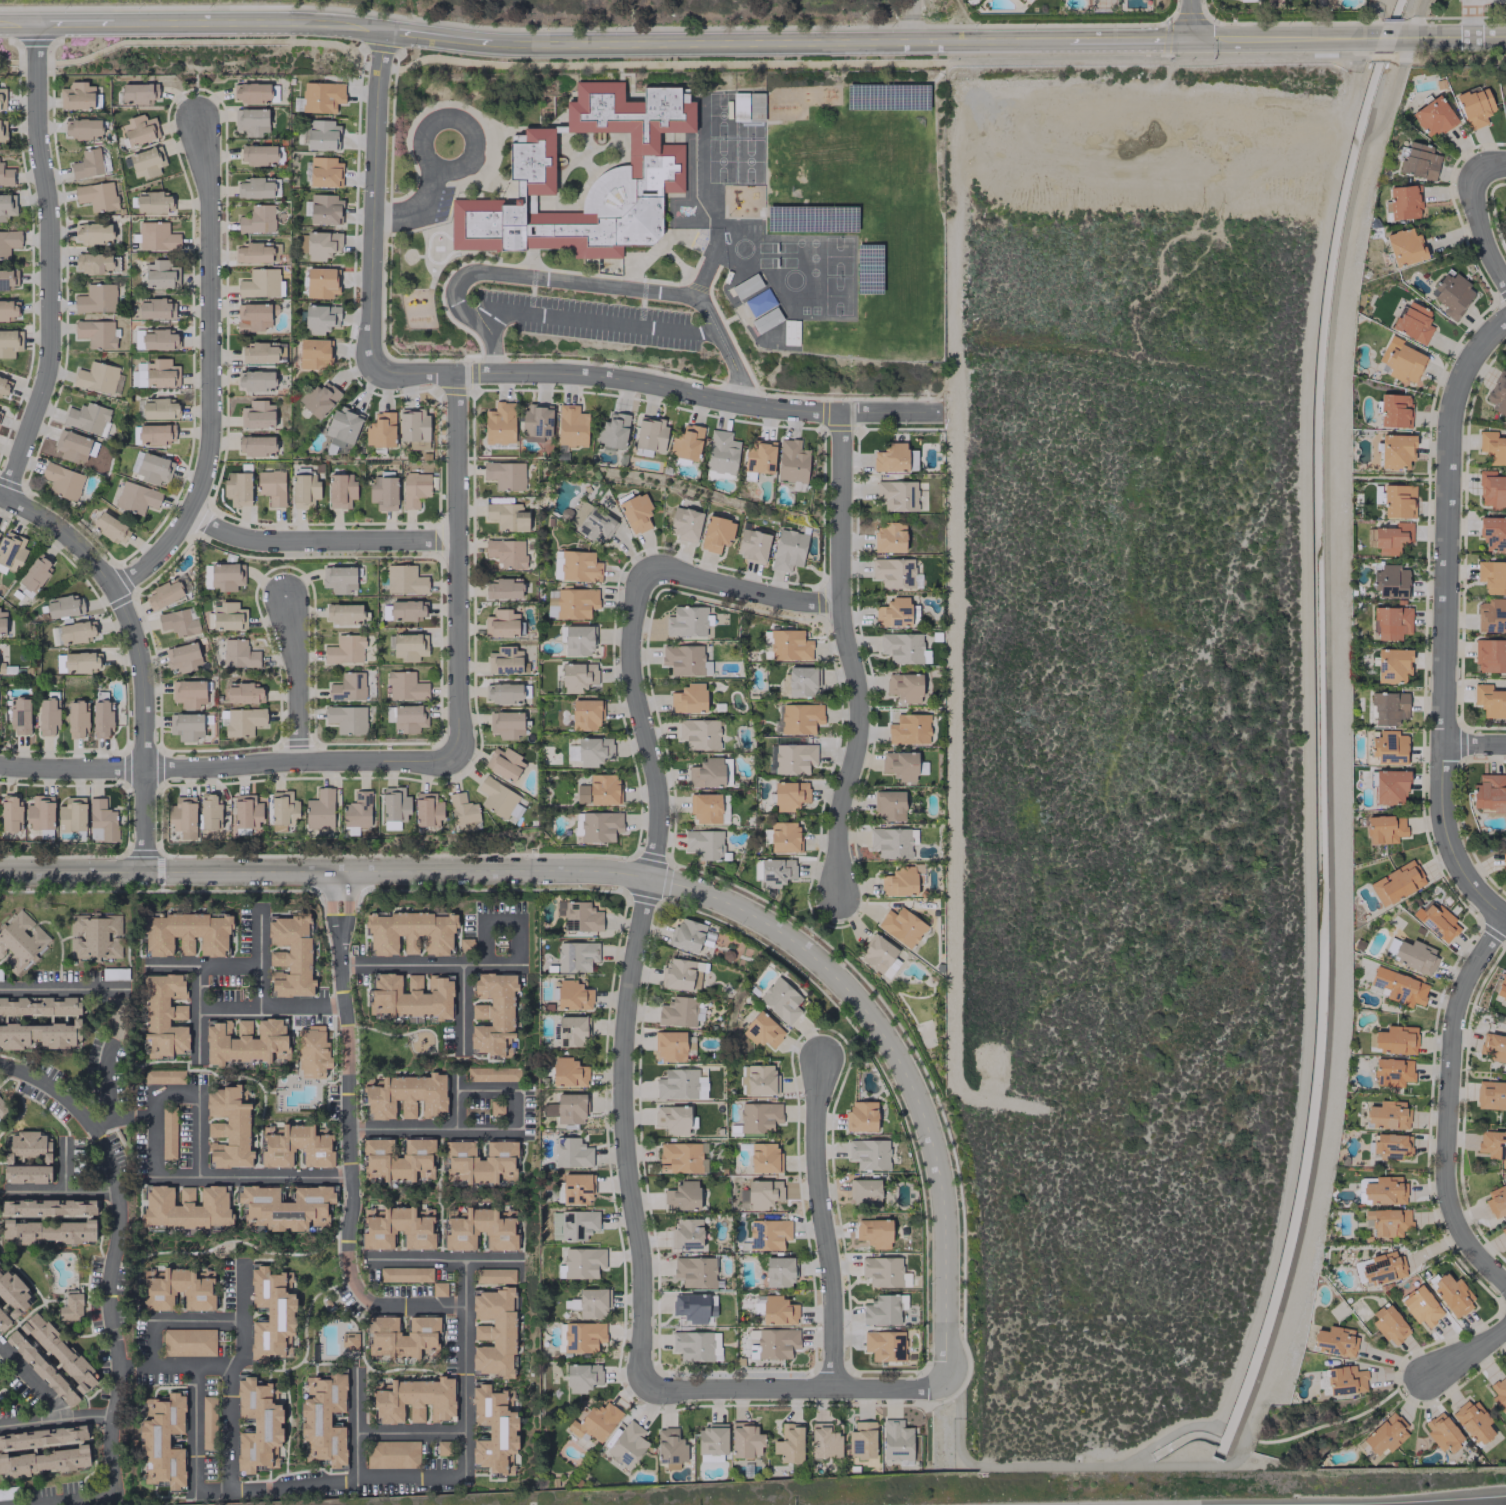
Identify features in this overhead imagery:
road: (1470, 18)
road: (1191, 20)
road: (913, 22)
road: (180, 23)
road: (317, 23)
road: (18, 24)
road: (74, 24)
road: (1348, 38)
road: (1129, 40)
traffic signals: (1192, 40)
road: (1051, 41)
road: (711, 45)
road: (199, 68)
building: (251, 92)
building: (136, 93)
building: (77, 96)
building: (321, 96)
building: (2, 98)
building: (747, 106)
building: (1474, 106)
road: (447, 115)
building: (1432, 116)
building: (251, 120)
building: (82, 128)
building: (2, 130)
building: (139, 130)
building: (321, 135)
building: (258, 154)
building: (1419, 161)
building: (90, 163)
building: (145, 163)
building: (644, 169)
road: (1488, 169)
building: (324, 172)
building: (5, 175)
building: (96, 195)
road: (374, 195)
building: (152, 202)
building: (1403, 202)
building: (7, 206)
building: (325, 209)
road: (417, 209)
building: (257, 219)
building: (92, 233)
road: (1481, 235)
building: (157, 237)
building: (8, 242)
building: (322, 245)
building: (1405, 247)
building: (253, 253)
building: (92, 262)
road: (52, 265)
building: (162, 275)
building: (6, 279)
building: (321, 282)
building: (260, 283)
road: (582, 284)
building: (745, 286)
building: (1451, 295)
building: (96, 298)
building: (758, 302)
building: (7, 309)
building: (154, 309)
building: (253, 317)
building: (320, 318)
building: (766, 320)
building: (1413, 322)
parking lot: (597, 323)
road: (599, 323)
building: (95, 333)
building: (158, 340)
building: (10, 342)
building: (259, 353)
building: (314, 353)
building: (1400, 360)
building: (161, 373)
road: (211, 375)
building: (98, 377)
building: (255, 380)
building: (3, 385)
road: (654, 385)
building: (1498, 394)
building: (318, 398)
building: (159, 409)
building: (1394, 410)
building: (257, 415)
building: (88, 418)
building: (499, 423)
building: (536, 424)
building: (413, 426)
building: (571, 426)
building: (341, 428)
building: (380, 430)
building: (612, 431)
building: (153, 433)
building: (649, 436)
building: (686, 443)
building: (255, 445)
building: (71, 446)
building: (1492, 447)
building: (1396, 451)
building: (721, 453)
building: (759, 456)
building: (890, 458)
building: (791, 461)
building: (153, 469)
building: (505, 475)
road: (1398, 478)
building: (62, 480)
building: (271, 487)
building: (304, 488)
building: (414, 489)
building: (340, 490)
building: (1492, 490)
building: (383, 492)
building: (136, 497)
building: (1398, 501)
building: (635, 513)
building: (507, 516)
building: (590, 522)
building: (684, 523)
building: (109, 527)
building: (1492, 532)
road: (63, 533)
building: (716, 533)
building: (889, 537)
building: (1392, 538)
road: (321, 540)
building: (752, 545)
building: (788, 549)
building: (11, 550)
building: (506, 552)
road: (456, 562)
building: (579, 566)
building: (35, 572)
building: (895, 573)
building: (1492, 576)
building: (225, 577)
building: (338, 579)
building: (404, 580)
building: (1390, 581)
building: (502, 588)
road: (741, 588)
building: (163, 594)
building: (575, 603)
building: (61, 606)
building: (405, 609)
building: (893, 612)
building: (342, 613)
building: (228, 616)
building: (1491, 616)
building: (2, 621)
building: (687, 621)
road: (1443, 621)
building: (178, 622)
building: (1391, 622)
building: (502, 623)
building: (75, 632)
building: (578, 640)
building: (789, 645)
building: (408, 647)
building: (903, 648)
building: (344, 649)
building: (239, 654)
building: (1490, 655)
road: (848, 658)
building: (504, 660)
building: (684, 660)
building: (77, 662)
building: (1392, 665)
road: (295, 678)
building: (574, 678)
building: (802, 681)
building: (405, 686)
building: (348, 687)
building: (904, 687)
building: (188, 693)
building: (244, 693)
building: (504, 693)
building: (688, 699)
building: (1489, 700)
building: (1388, 708)
building: (585, 715)
building: (19, 716)
building: (47, 716)
building: (101, 718)
building: (409, 718)
building: (800, 718)
building: (77, 719)
building: (346, 719)
building: (243, 722)
building: (506, 724)
building: (186, 726)
road: (142, 727)
building: (908, 729)
building: (698, 733)
road: (1473, 743)
building: (1388, 747)
building: (793, 758)
building: (504, 763)
road: (228, 764)
building: (900, 765)
building: (1389, 787)
building: (598, 790)
building: (1488, 793)
building: (789, 795)
building: (889, 805)
building: (394, 807)
building: (705, 808)
building: (319, 809)
building: (282, 810)
building: (356, 810)
building: (427, 810)
building: (209, 812)
building: (246, 812)
building: (463, 812)
building: (10, 814)
building: (72, 815)
building: (103, 818)
building: (182, 818)
building: (576, 823)
building: (600, 826)
building: (1384, 829)
building: (784, 837)
building: (892, 842)
building: (703, 843)
building: (1504, 863)
building: (776, 872)
road: (645, 877)
building: (899, 881)
building: (1396, 883)
road: (331, 902)
road: (346, 902)
building: (580, 916)
road: (499, 919)
road: (1505, 920)
building: (1438, 922)
building: (901, 926)
building: (409, 933)
building: (184, 934)
building: (687, 935)
building: (94, 936)
building: (20, 940)
road: (482, 941)
road: (516, 941)
building: (877, 954)
building: (1412, 954)
road: (259, 955)
building: (290, 955)
building: (576, 956)
road: (428, 964)
road: (201, 965)
road: (634, 968)
building: (681, 974)
building: (1501, 986)
building: (1397, 987)
road: (62, 988)
building: (573, 995)
building: (410, 996)
building: (780, 1000)
road: (270, 1006)
road: (461, 1009)
building: (679, 1011)
road: (197, 1014)
building: (493, 1014)
building: (164, 1015)
building: (76, 1019)
building: (762, 1030)
building: (572, 1031)
building: (1395, 1039)
building: (244, 1041)
building: (669, 1046)
building: (1493, 1047)
building: (313, 1052)
building: (1392, 1071)
building: (568, 1072)
building: (492, 1074)
building: (163, 1076)
building: (758, 1079)
building: (680, 1084)
road: (484, 1089)
road: (106, 1090)
building: (404, 1095)
building: (1491, 1095)
road: (174, 1098)
road: (455, 1099)
building: (0, 1102)
road: (1449, 1106)
building: (570, 1108)
road: (512, 1109)
building: (549, 1109)
building: (861, 1115)
building: (1387, 1115)
building: (759, 1117)
building: (674, 1119)
road: (346, 1123)
building: (228, 1127)
road: (429, 1128)
road: (197, 1130)
building: (168, 1133)
road: (152, 1137)
building: (26, 1145)
building: (296, 1145)
building: (1391, 1145)
building: (1493, 1145)
building: (571, 1152)
building: (869, 1153)
building: (764, 1157)
building: (681, 1158)
building: (397, 1159)
building: (478, 1162)
building: (26, 1173)
road: (251, 1176)
building: (576, 1188)
building: (1384, 1190)
building: (864, 1191)
road: (58, 1192)
building: (760, 1194)
building: (682, 1196)
building: (1496, 1200)
building: (47, 1207)
building: (186, 1207)
building: (285, 1207)
road: (821, 1221)
building: (1387, 1221)
building: (573, 1224)
building: (395, 1228)
building: (479, 1229)
building: (47, 1231)
building: (1503, 1231)
building: (874, 1232)
building: (686, 1233)
building: (768, 1233)
road: (111, 1254)
road: (441, 1259)
building: (581, 1263)
building: (1379, 1268)
building: (695, 1271)
building: (884, 1271)
building: (778, 1272)
building: (405, 1274)
building: (495, 1275)
building: (177, 1289)
building: (438, 1289)
building: (13, 1293)
building: (1452, 1296)
building: (593, 1302)
road: (417, 1305)
building: (711, 1305)
building: (1421, 1306)
building: (71, 1307)
building: (690, 1307)
building: (883, 1309)
building: (777, 1311)
building: (271, 1314)
road: (196, 1319)
building: (3, 1321)
building: (1389, 1324)
building: (493, 1332)
building: (582, 1336)
building: (403, 1337)
building: (349, 1341)
building: (1334, 1341)
building: (188, 1342)
building: (777, 1343)
road: (150, 1344)
building: (884, 1345)
building: (696, 1346)
building: (58, 1351)
road: (1464, 1352)
building: (41, 1368)
road: (463, 1368)
road: (133, 1369)
road: (191, 1369)
road: (230, 1373)
building: (582, 1377)
building: (1345, 1380)
road: (31, 1381)
road: (789, 1388)
building: (1500, 1393)
building: (414, 1399)
road: (54, 1419)
building: (323, 1419)
road: (1342, 1420)
building: (595, 1421)
building: (1472, 1421)
building: (208, 1422)
road: (355, 1424)
building: (257, 1427)
road: (193, 1430)
building: (493, 1431)
road: (409, 1432)
building: (1442, 1432)
building: (1385, 1434)
building: (43, 1437)
building: (712, 1438)
building: (745, 1440)
building: (162, 1441)
building: (824, 1441)
building: (896, 1441)
building: (861, 1442)
building: (789, 1443)
building: (627, 1444)
building: (669, 1448)
building: (393, 1454)
building: (43, 1461)
road: (327, 1482)
road: (76, 1501)

